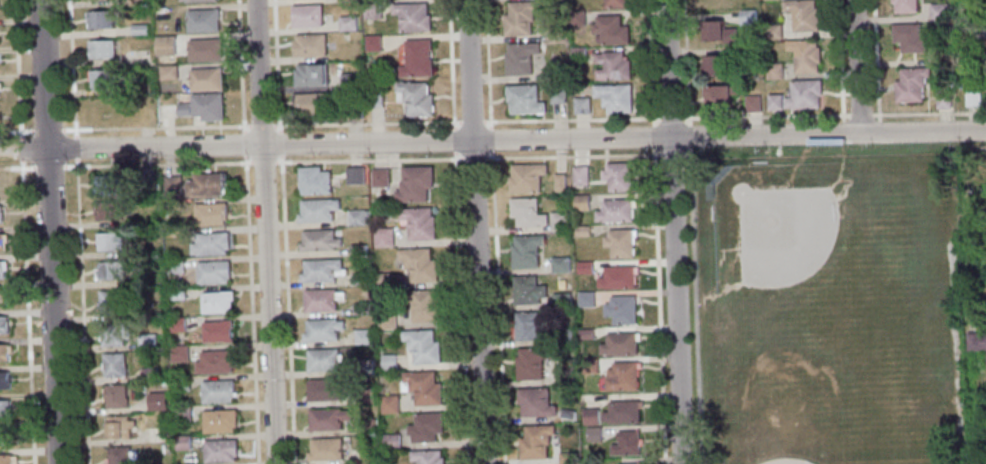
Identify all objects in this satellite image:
building: (202, 0)
building: (717, 2)
building: (616, 3)
building: (905, 6)
building: (371, 9)
building: (939, 12)
building: (802, 14)
building: (307, 16)
building: (577, 16)
building: (521, 17)
building: (747, 17)
building: (411, 18)
building: (100, 20)
building: (206, 20)
building: (346, 23)
building: (138, 29)
building: (611, 29)
building: (719, 31)
building: (774, 32)
building: (555, 33)
building: (910, 37)
building: (372, 43)
building: (164, 46)
building: (309, 46)
building: (101, 49)
building: (207, 49)
building: (749, 51)
building: (578, 52)
building: (805, 55)
building: (521, 57)
road: (838, 57)
road: (874, 57)
building: (418, 58)
building: (0, 61)
road: (650, 61)
road: (686, 61)
building: (982, 61)
building: (613, 65)
building: (714, 65)
road: (241, 66)
road: (276, 66)
road: (857, 67)
building: (552, 71)
building: (774, 71)
building: (167, 73)
building: (309, 76)
building: (207, 79)
building: (101, 80)
building: (350, 81)
building: (911, 83)
building: (0, 89)
building: (557, 92)
building: (803, 94)
building: (720, 95)
building: (615, 97)
building: (972, 97)
building: (376, 98)
building: (416, 98)
building: (525, 98)
building: (942, 99)
building: (774, 102)
building: (752, 103)
building: (313, 104)
building: (581, 105)
building: (205, 106)
building: (352, 111)
road: (833, 115)
road: (670, 117)
road: (465, 122)
road: (261, 126)
road: (125, 128)
road: (689, 135)
road: (652, 136)
road: (516, 141)
road: (242, 143)
road: (279, 144)
road: (973, 147)
road: (23, 151)
road: (572, 156)
road: (671, 156)
road: (686, 156)
road: (474, 158)
road: (368, 159)
road: (263, 161)
road: (157, 164)
road: (48, 166)
road: (16, 167)
building: (355, 175)
building: (580, 175)
building: (617, 176)
building: (380, 177)
building: (527, 177)
building: (316, 182)
building: (559, 182)
building: (107, 184)
building: (415, 184)
building: (171, 185)
building: (205, 185)
building: (581, 202)
building: (317, 210)
building: (111, 211)
building: (615, 211)
building: (526, 212)
building: (210, 213)
building: (0, 214)
building: (981, 216)
building: (357, 218)
building: (559, 221)
building: (419, 223)
building: (582, 230)
road: (49, 231)
road: (78, 231)
road: (459, 231)
road: (475, 231)
road: (495, 231)
road: (673, 231)
road: (22, 232)
road: (263, 232)
park: (787, 234)
building: (383, 237)
building: (319, 239)
building: (1, 241)
building: (110, 242)
building: (619, 242)
building: (213, 243)
building: (979, 244)
building: (357, 249)
building: (526, 250)
building: (419, 264)
building: (560, 264)
building: (175, 266)
building: (584, 267)
building: (2, 269)
building: (320, 269)
building: (111, 271)
building: (214, 271)
building: (617, 277)
building: (358, 279)
building: (384, 281)
building: (528, 290)
building: (176, 293)
building: (2, 297)
building: (320, 299)
building: (586, 299)
building: (561, 301)
building: (216, 302)
building: (110, 303)
building: (424, 306)
road: (658, 306)
road: (695, 306)
building: (360, 308)
road: (250, 309)
road: (287, 309)
building: (620, 309)
building: (386, 321)
building: (3, 324)
building: (177, 324)
building: (530, 325)
building: (322, 329)
building: (217, 331)
building: (115, 333)
building: (585, 334)
building: (563, 335)
building: (361, 336)
building: (147, 341)
building: (978, 341)
building: (619, 344)
building: (423, 346)
building: (4, 352)
building: (179, 353)
building: (323, 359)
building: (217, 361)
building: (387, 361)
building: (532, 362)
building: (114, 364)
building: (364, 365)
building: (590, 365)
building: (148, 373)
building: (564, 376)
building: (622, 377)
building: (4, 380)
building: (180, 383)
building: (422, 387)
building: (323, 389)
building: (218, 391)
building: (365, 395)
building: (116, 396)
building: (156, 401)
building: (535, 402)
building: (389, 404)
building: (5, 408)
building: (622, 412)
building: (182, 413)
building: (567, 416)
building: (590, 417)
building: (325, 419)
building: (220, 420)
building: (120, 426)
building: (366, 426)
building: (426, 427)
building: (593, 435)
building: (5, 436)
building: (391, 441)
building: (536, 441)
building: (182, 443)
building: (627, 444)
building: (326, 448)
building: (220, 450)
building: (120, 455)
building: (427, 457)
building: (567, 458)
building: (8, 459)
park: (785, 461)
building: (633, 463)

